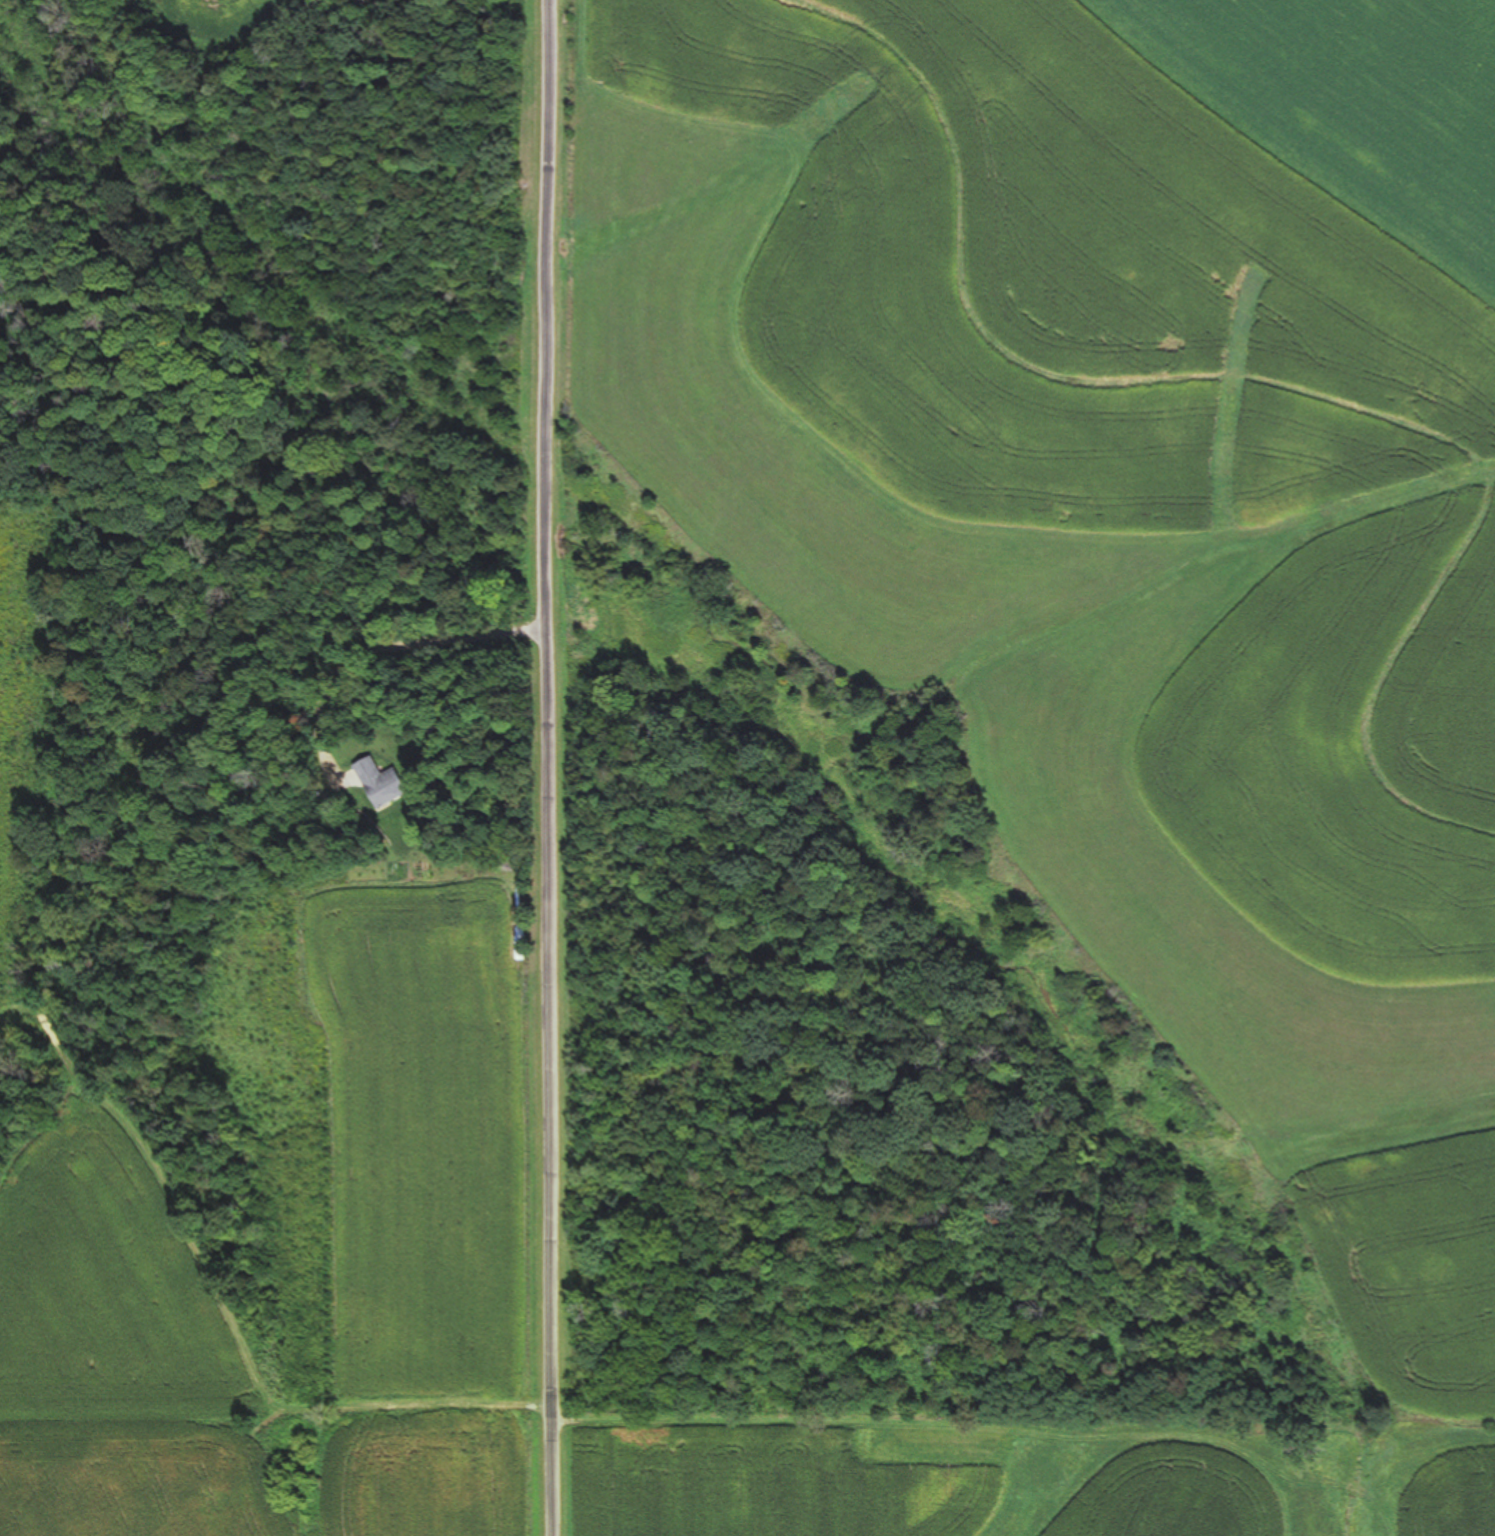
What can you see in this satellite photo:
road: (386, 648)
road: (554, 767)
building: (383, 783)

